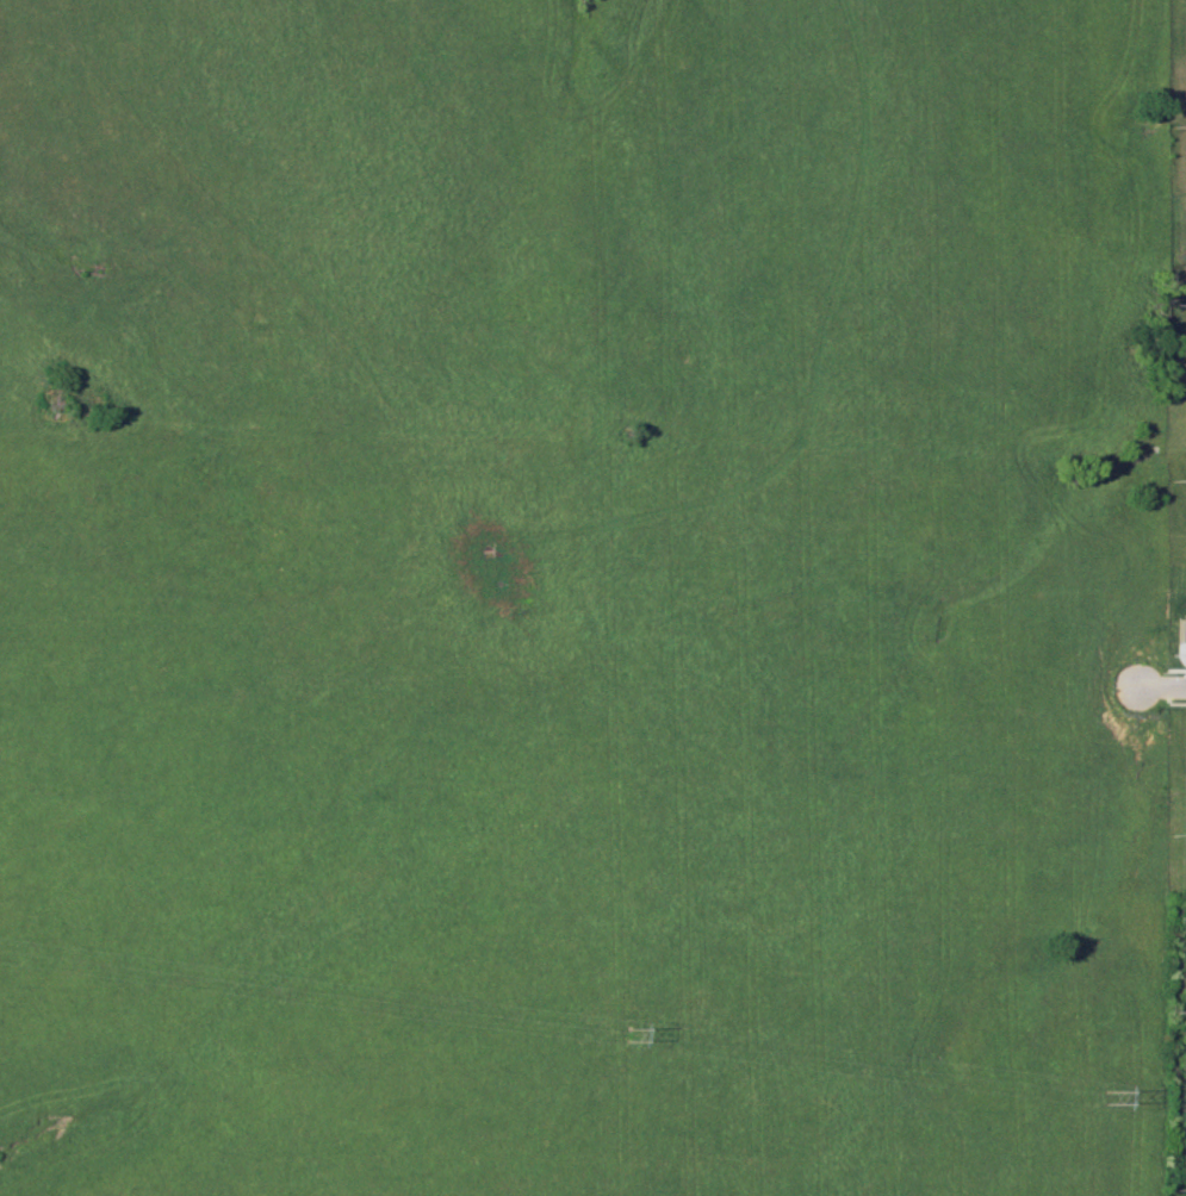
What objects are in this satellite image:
building: (1180, 628)
road: (1161, 689)
power tower: (626, 1035)
power tower: (1099, 1097)

